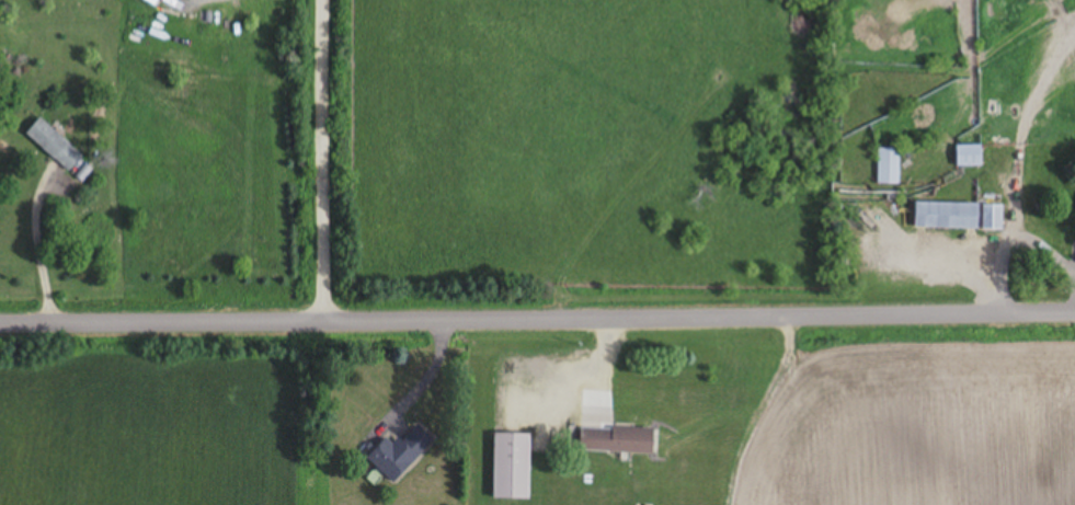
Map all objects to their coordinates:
building: (152, 2)
building: (55, 144)
road: (322, 156)
building: (969, 156)
building: (888, 165)
building: (946, 216)
building: (993, 217)
road: (537, 308)
building: (616, 440)
building: (399, 454)
building: (512, 467)

